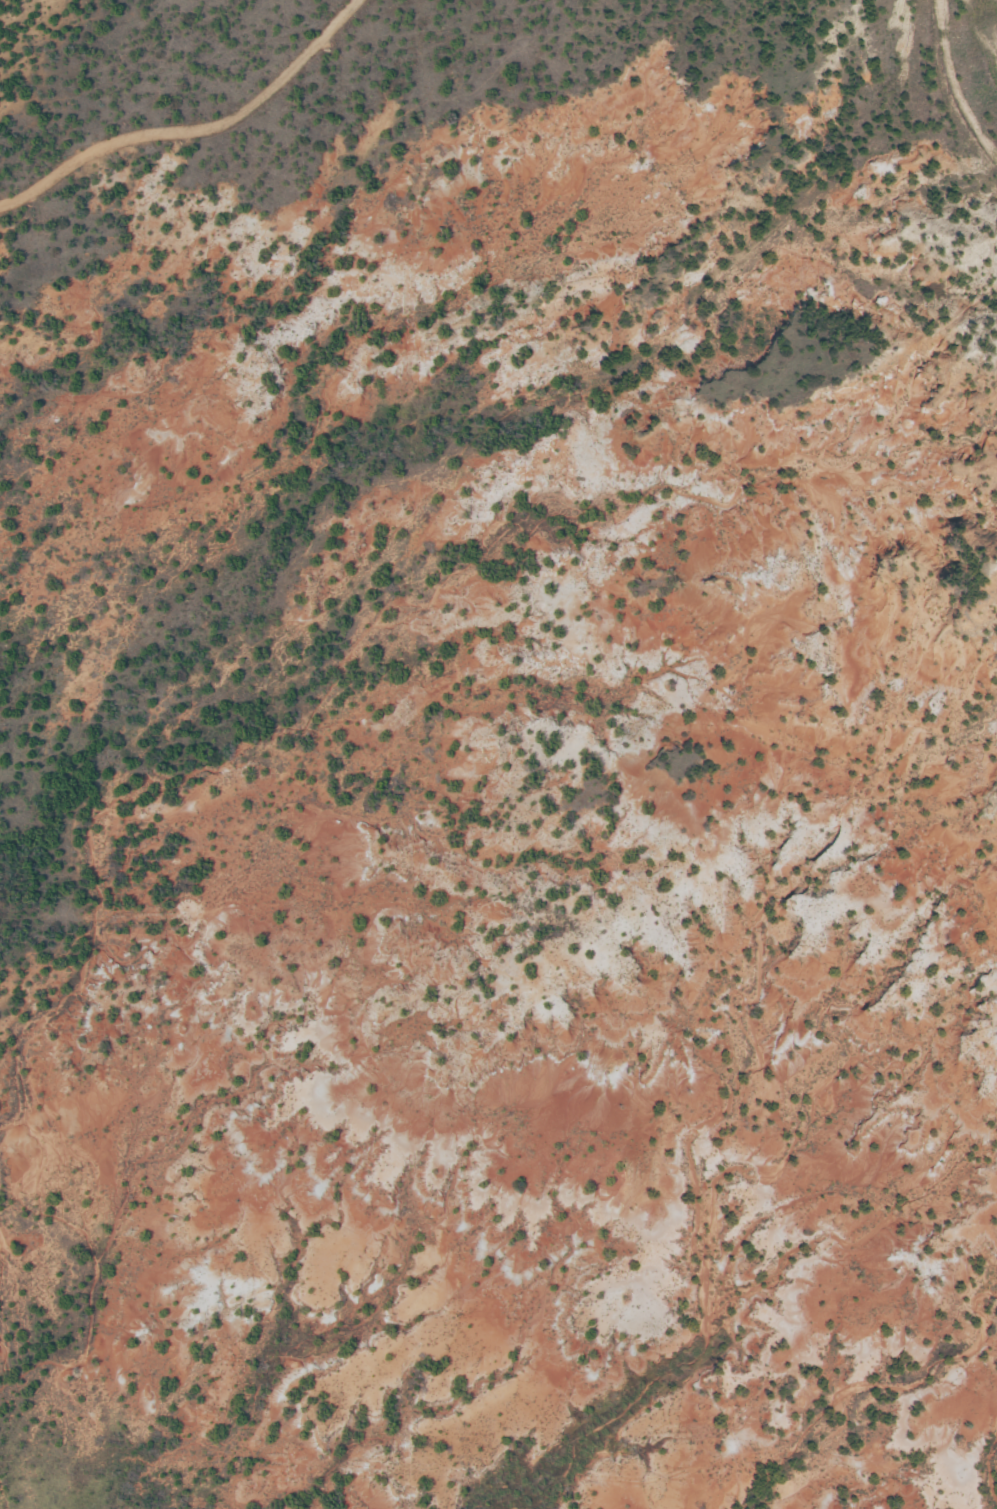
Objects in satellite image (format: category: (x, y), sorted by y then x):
road: (196, 56)

